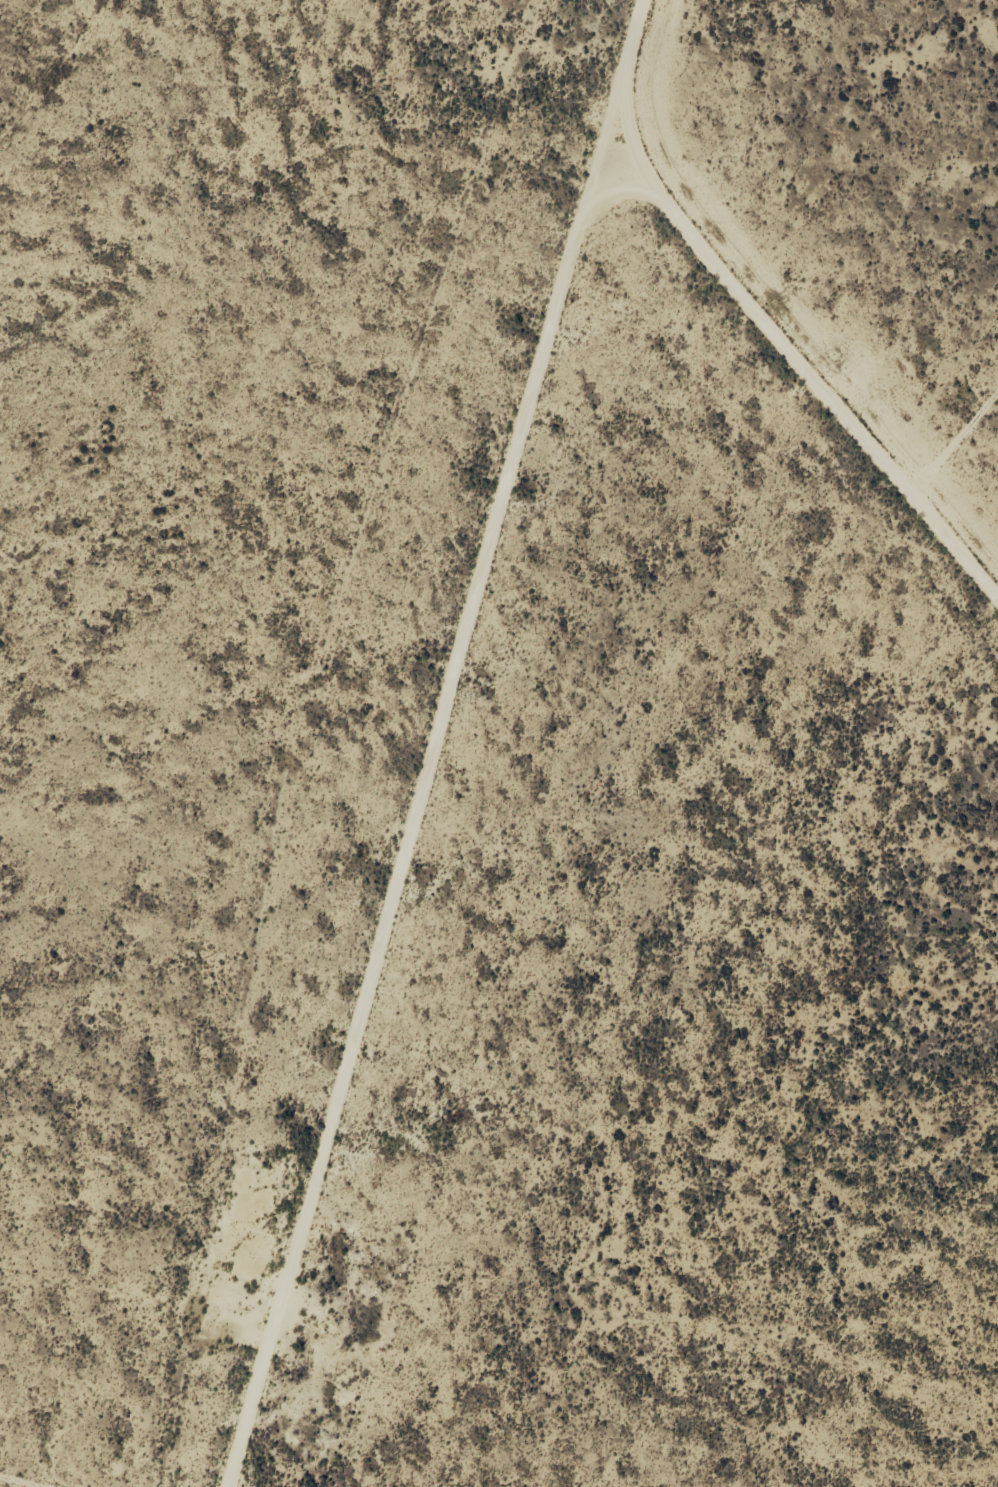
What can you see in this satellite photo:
road: (818, 346)
road: (454, 741)

